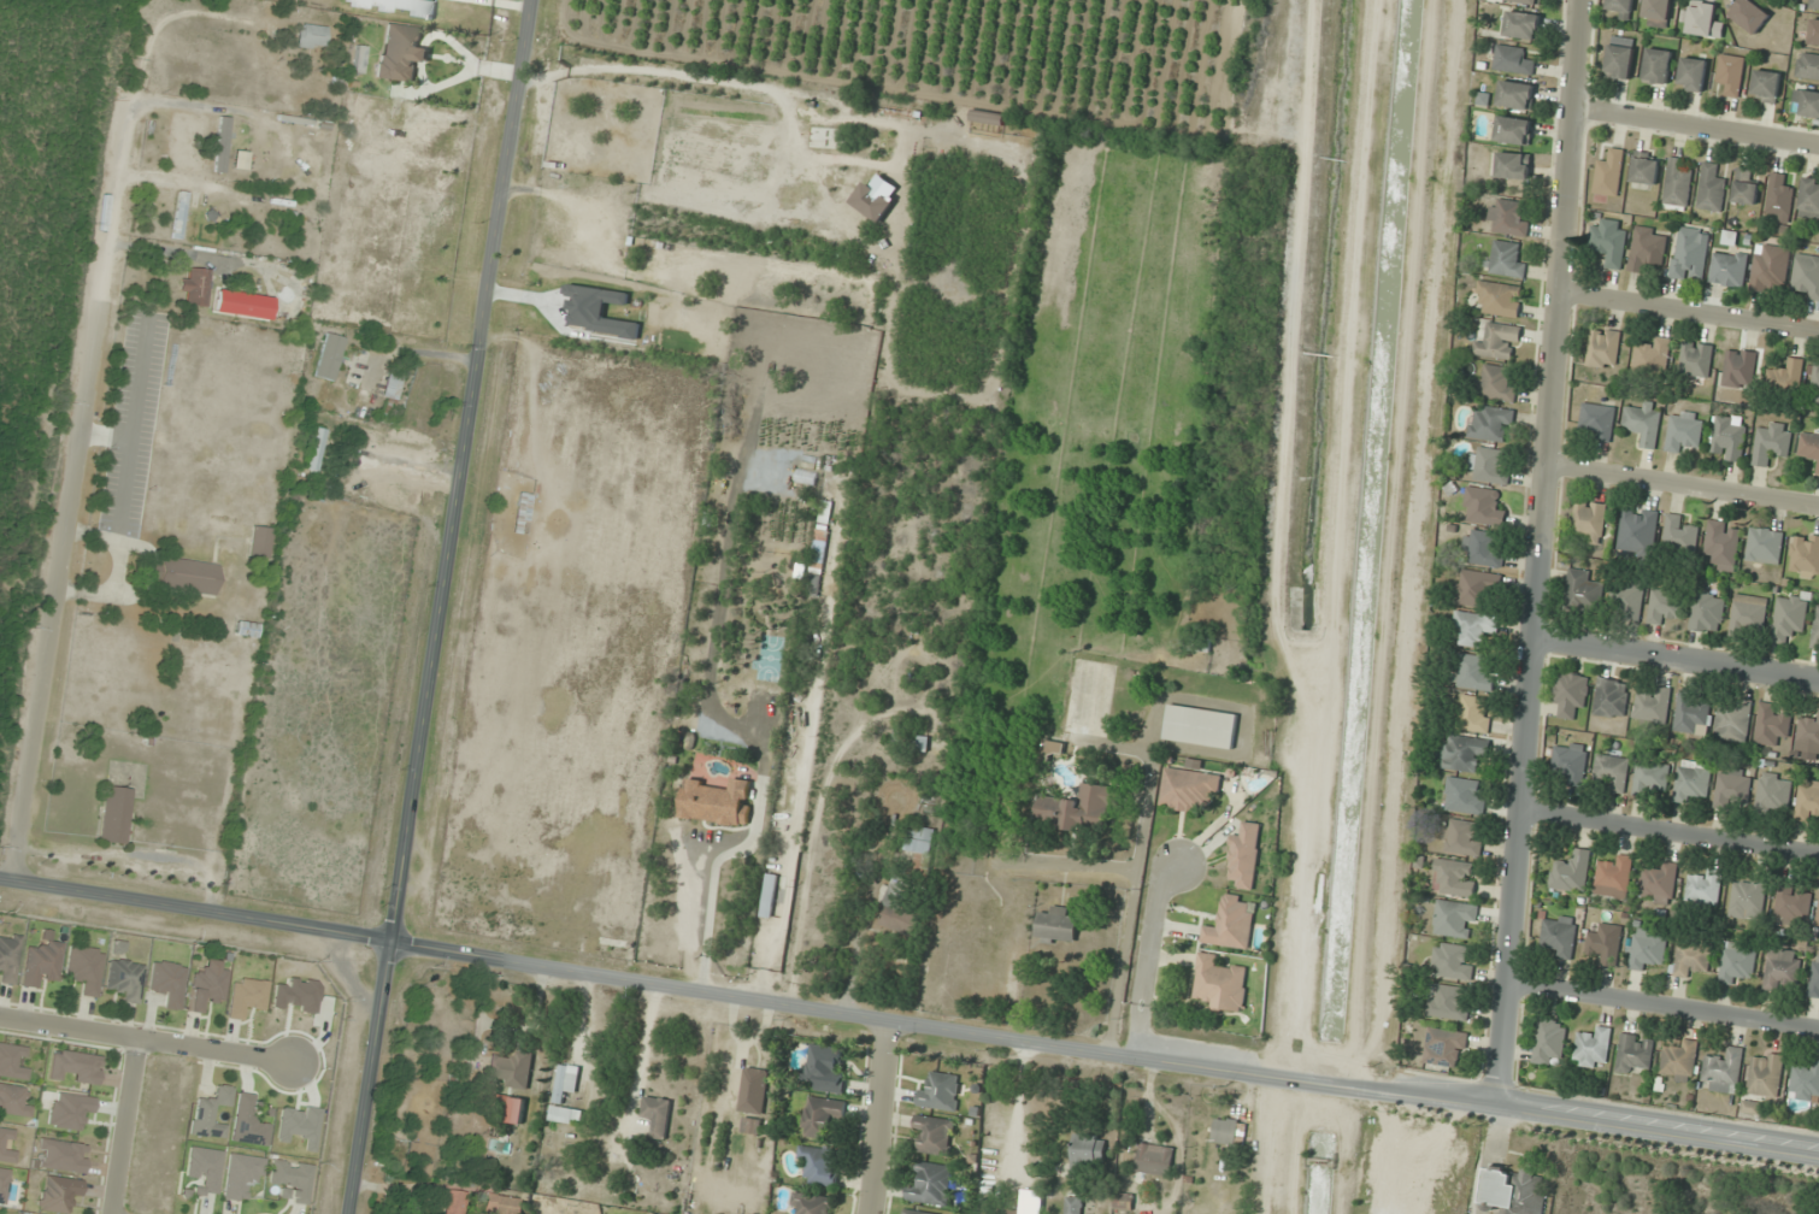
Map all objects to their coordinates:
building: (1526, 1)
building: (1814, 4)
road: (482, 5)
building: (1619, 8)
building: (1656, 12)
building: (1749, 14)
building: (1703, 20)
building: (1523, 25)
building: (1814, 33)
building: (311, 37)
building: (401, 53)
building: (1620, 58)
building: (1512, 60)
building: (1658, 66)
building: (1807, 66)
building: (1693, 73)
building: (1731, 73)
building: (1766, 87)
building: (1515, 95)
building: (1807, 102)
road: (1696, 129)
building: (1513, 130)
building: (220, 145)
building: (1513, 165)
building: (1646, 169)
building: (1609, 173)
building: (1677, 183)
building: (1744, 188)
building: (1711, 189)
building: (1779, 198)
building: (1809, 198)
building: (873, 201)
building: (178, 216)
building: (1508, 218)
building: (1609, 240)
building: (1647, 248)
building: (1690, 253)
building: (1506, 259)
building: (1729, 269)
building: (1771, 269)
building: (1807, 276)
building: (195, 287)
building: (1499, 299)
building: (242, 305)
road: (1688, 312)
building: (1499, 342)
building: (1603, 348)
building: (329, 356)
building: (1653, 359)
building: (1696, 359)
building: (1739, 369)
building: (1785, 377)
building: (1497, 382)
building: (1815, 383)
building: (392, 387)
building: (1599, 420)
building: (1643, 422)
building: (1491, 424)
building: (1684, 432)
building: (1730, 438)
building: (1772, 443)
building: (1808, 446)
building: (316, 449)
building: (1489, 466)
building: (1818, 472)
road: (1682, 483)
building: (1484, 507)
building: (826, 512)
building: (1589, 520)
building: (1638, 531)
building: (1679, 534)
building: (259, 542)
building: (1724, 544)
building: (1765, 544)
building: (1484, 548)
road: (1538, 549)
building: (1805, 555)
building: (182, 576)
building: (816, 584)
building: (1478, 588)
road: (52, 590)
building: (1583, 590)
building: (1627, 599)
building: (1665, 605)
road: (438, 607)
building: (1707, 612)
building: (1748, 614)
building: (1789, 618)
building: (1476, 627)
building: (1817, 629)
building: (246, 630)
road: (1677, 658)
building: (1473, 672)
building: (1571, 693)
building: (1611, 697)
building: (1653, 706)
building: (1691, 713)
building: (1476, 714)
building: (1733, 720)
building: (1771, 724)
building: (1201, 726)
building: (1808, 733)
building: (923, 743)
building: (1462, 753)
building: (1571, 762)
building: (1612, 771)
building: (1650, 777)
building: (1693, 780)
building: (1732, 786)
building: (1189, 789)
building: (1774, 794)
building: (1465, 795)
building: (1809, 801)
building: (718, 802)
building: (1081, 808)
building: (114, 815)
road: (1668, 832)
building: (1460, 837)
building: (922, 844)
building: (1246, 856)
building: (1572, 871)
building: (1454, 877)
building: (1614, 877)
building: (1659, 880)
building: (1703, 888)
building: (770, 895)
building: (1748, 898)
building: (1794, 903)
road: (195, 908)
building: (897, 912)
building: (1818, 918)
building: (1455, 919)
building: (1231, 924)
building: (1056, 925)
building: (1559, 936)
building: (1606, 944)
building: (1647, 949)
building: (8, 957)
building: (1691, 959)
road: (1149, 960)
building: (1452, 961)
building: (1737, 963)
building: (41, 965)
building: (84, 968)
building: (1782, 968)
building: (125, 980)
building: (1814, 980)
building: (167, 983)
building: (1220, 983)
building: (208, 985)
building: (247, 996)
building: (1449, 1002)
road: (1662, 1004)
road: (146, 1039)
building: (1550, 1042)
building: (1444, 1047)
building: (1593, 1048)
road: (1103, 1054)
building: (1635, 1054)
building: (12, 1061)
building: (1679, 1061)
building: (76, 1067)
building: (826, 1068)
building: (512, 1069)
building: (1724, 1071)
building: (1766, 1073)
building: (1805, 1083)
building: (754, 1090)
building: (942, 1092)
building: (560, 1098)
building: (14, 1101)
building: (70, 1110)
building: (211, 1114)
building: (658, 1115)
building: (820, 1116)
road: (881, 1116)
building: (249, 1122)
building: (299, 1125)
building: (752, 1125)
road: (124, 1126)
building: (1230, 1131)
building: (935, 1133)
building: (6, 1147)
building: (1088, 1153)
building: (61, 1156)
building: (1155, 1160)
building: (822, 1166)
building: (205, 1169)
building: (242, 1175)
building: (292, 1180)
building: (2, 1185)
building: (932, 1185)
building: (1515, 1190)
building: (59, 1194)
building: (1124, 1201)
building: (454, 1202)
building: (813, 1203)
building: (505, 1204)
building: (1075, 1204)
building: (1009, 1210)
building: (914, 1212)

